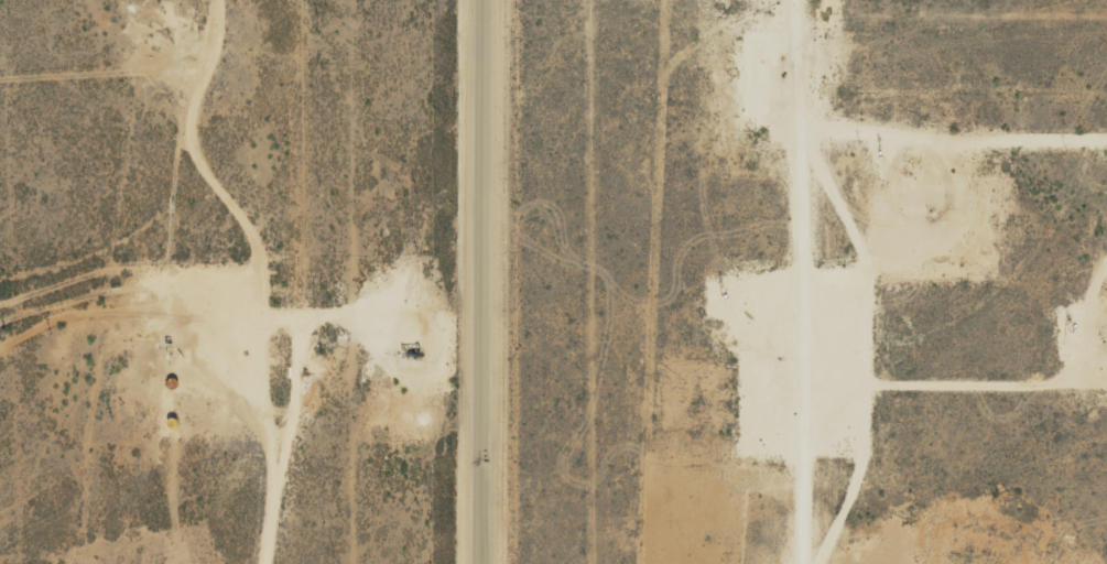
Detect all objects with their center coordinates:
road: (138, 84)
road: (480, 282)
road: (813, 282)
road: (193, 323)

